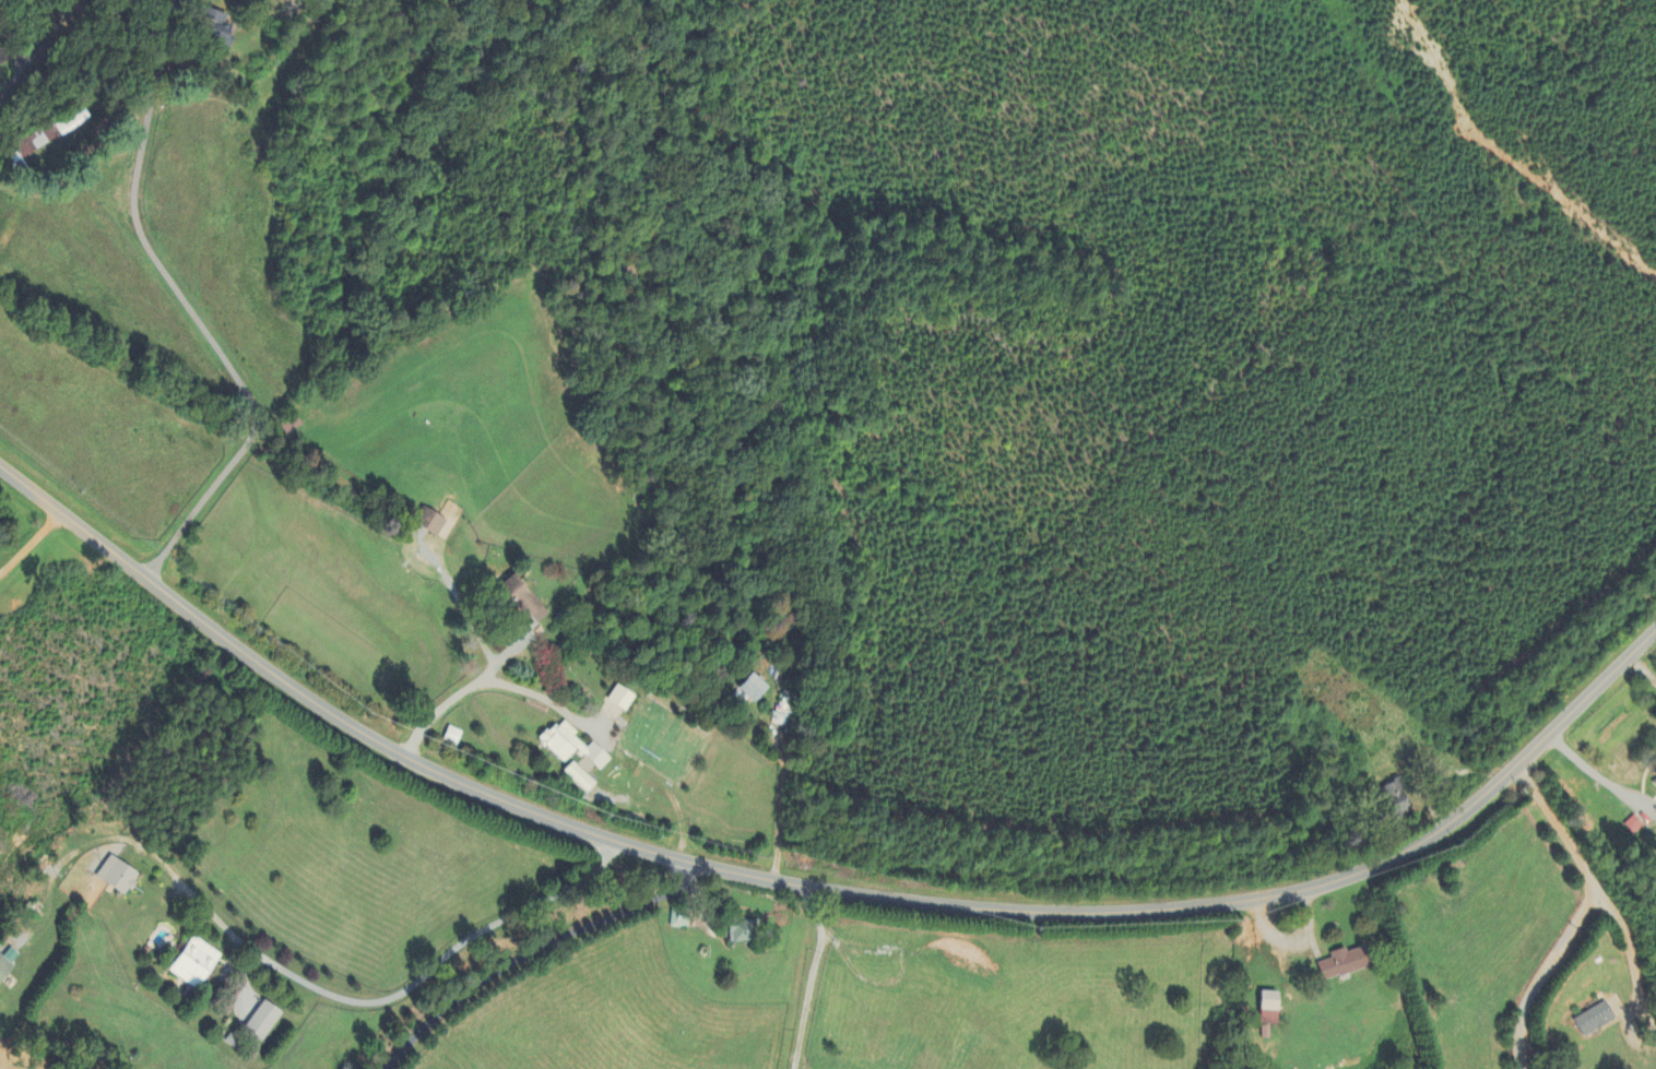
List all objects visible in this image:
road: (166, 13)
road: (181, 13)
building: (221, 22)
road: (35, 55)
building: (74, 122)
building: (36, 144)
road: (0, 161)
road: (198, 321)
building: (426, 524)
road: (31, 543)
building: (518, 603)
road: (1644, 662)
road: (500, 681)
building: (749, 689)
building: (617, 700)
building: (451, 737)
building: (568, 747)
building: (579, 764)
building: (1654, 772)
road: (1602, 774)
building: (575, 779)
building: (1654, 786)
road: (780, 796)
building: (1632, 827)
building: (120, 877)
road: (818, 889)
road: (1581, 915)
building: (676, 922)
building: (736, 933)
road: (1628, 939)
road: (528, 953)
building: (8, 965)
building: (197, 965)
building: (1337, 965)
road: (301, 977)
road: (808, 979)
building: (1264, 1002)
road: (1647, 1010)
building: (1593, 1020)
building: (265, 1021)

